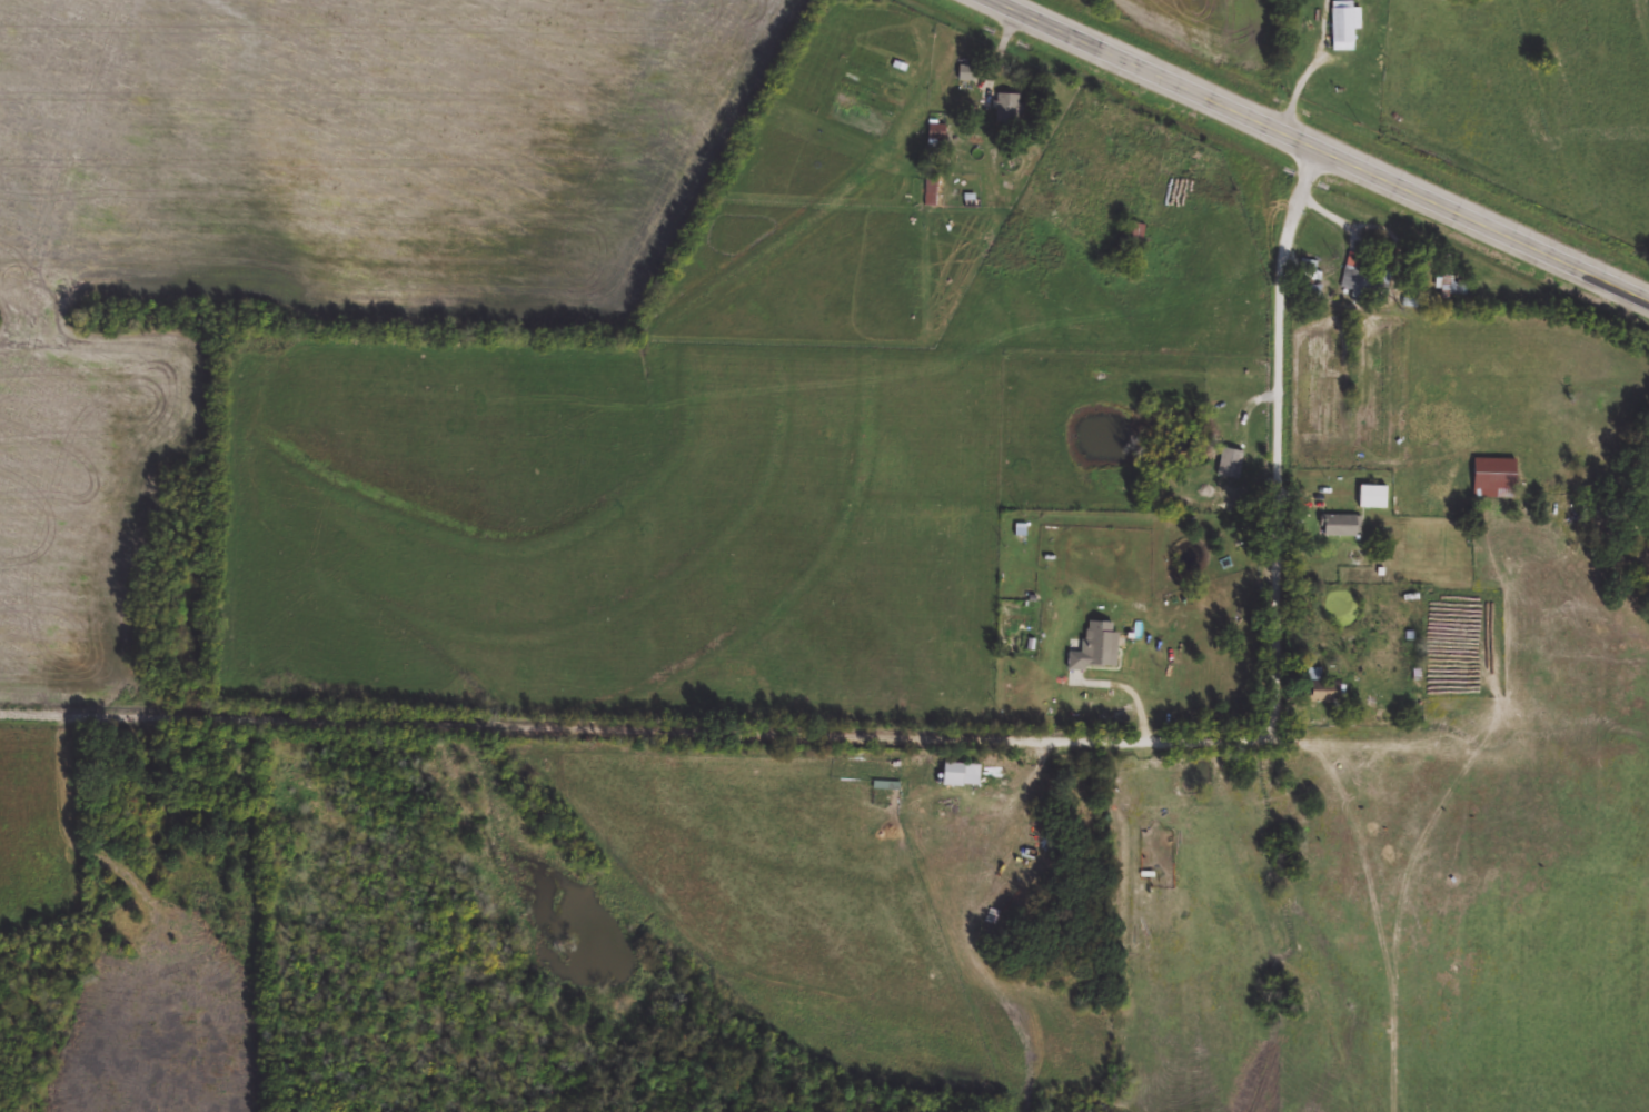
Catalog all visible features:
building: (1443, 0)
building: (1349, 27)
building: (1375, 50)
road: (994, 61)
building: (971, 76)
road: (1300, 79)
building: (1009, 111)
building: (936, 136)
railway: (1341, 140)
road: (1317, 152)
building: (932, 192)
road: (1340, 216)
building: (1133, 236)
building: (1310, 275)
building: (1354, 284)
building: (1497, 481)
building: (1373, 499)
building: (1343, 528)
building: (1099, 649)
building: (1320, 675)
building: (1325, 695)
road: (925, 733)
road: (1344, 756)
building: (963, 777)

